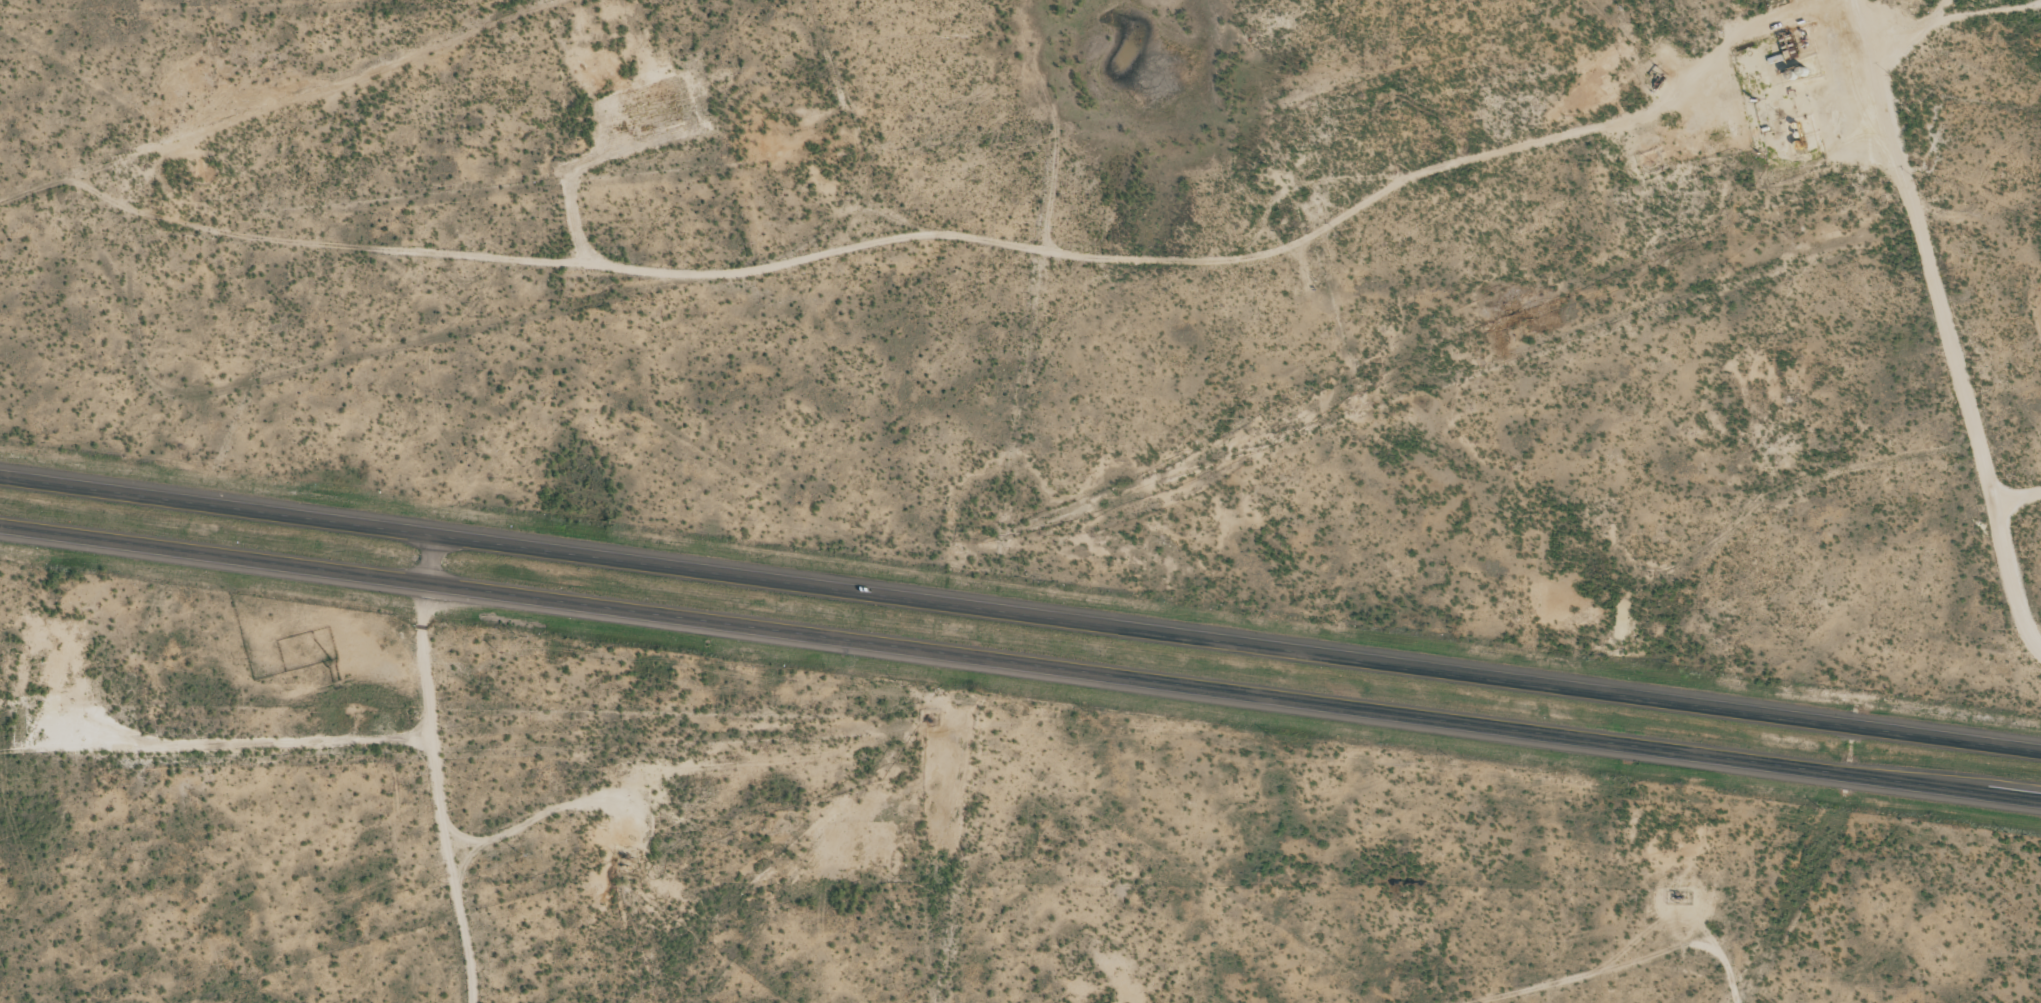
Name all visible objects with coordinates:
road: (1951, 317)
road: (427, 560)
road: (1020, 616)
road: (1020, 664)

